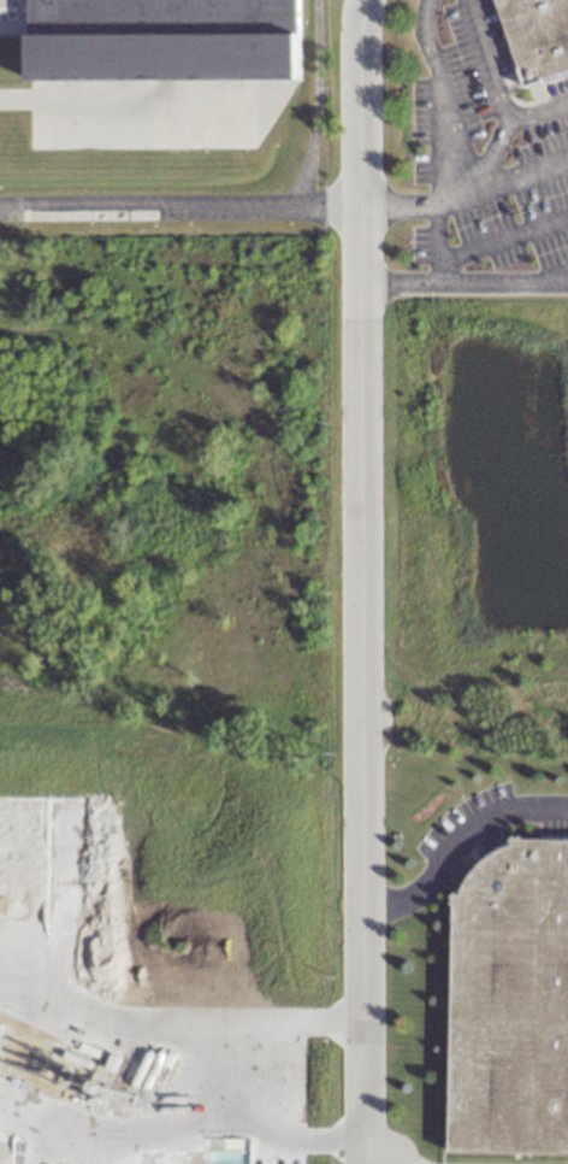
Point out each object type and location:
road: (421, 24)
building: (537, 37)
building: (162, 39)
road: (485, 61)
road: (314, 104)
road: (538, 113)
road: (449, 153)
road: (493, 157)
parking lot: (483, 161)
road: (523, 175)
road: (456, 199)
road: (396, 206)
road: (179, 207)
road: (503, 239)
road: (438, 274)
road: (551, 278)
road: (446, 286)
road: (403, 447)
road: (360, 581)
road: (463, 668)
parking lot: (448, 829)
road: (456, 836)
building: (508, 1004)

